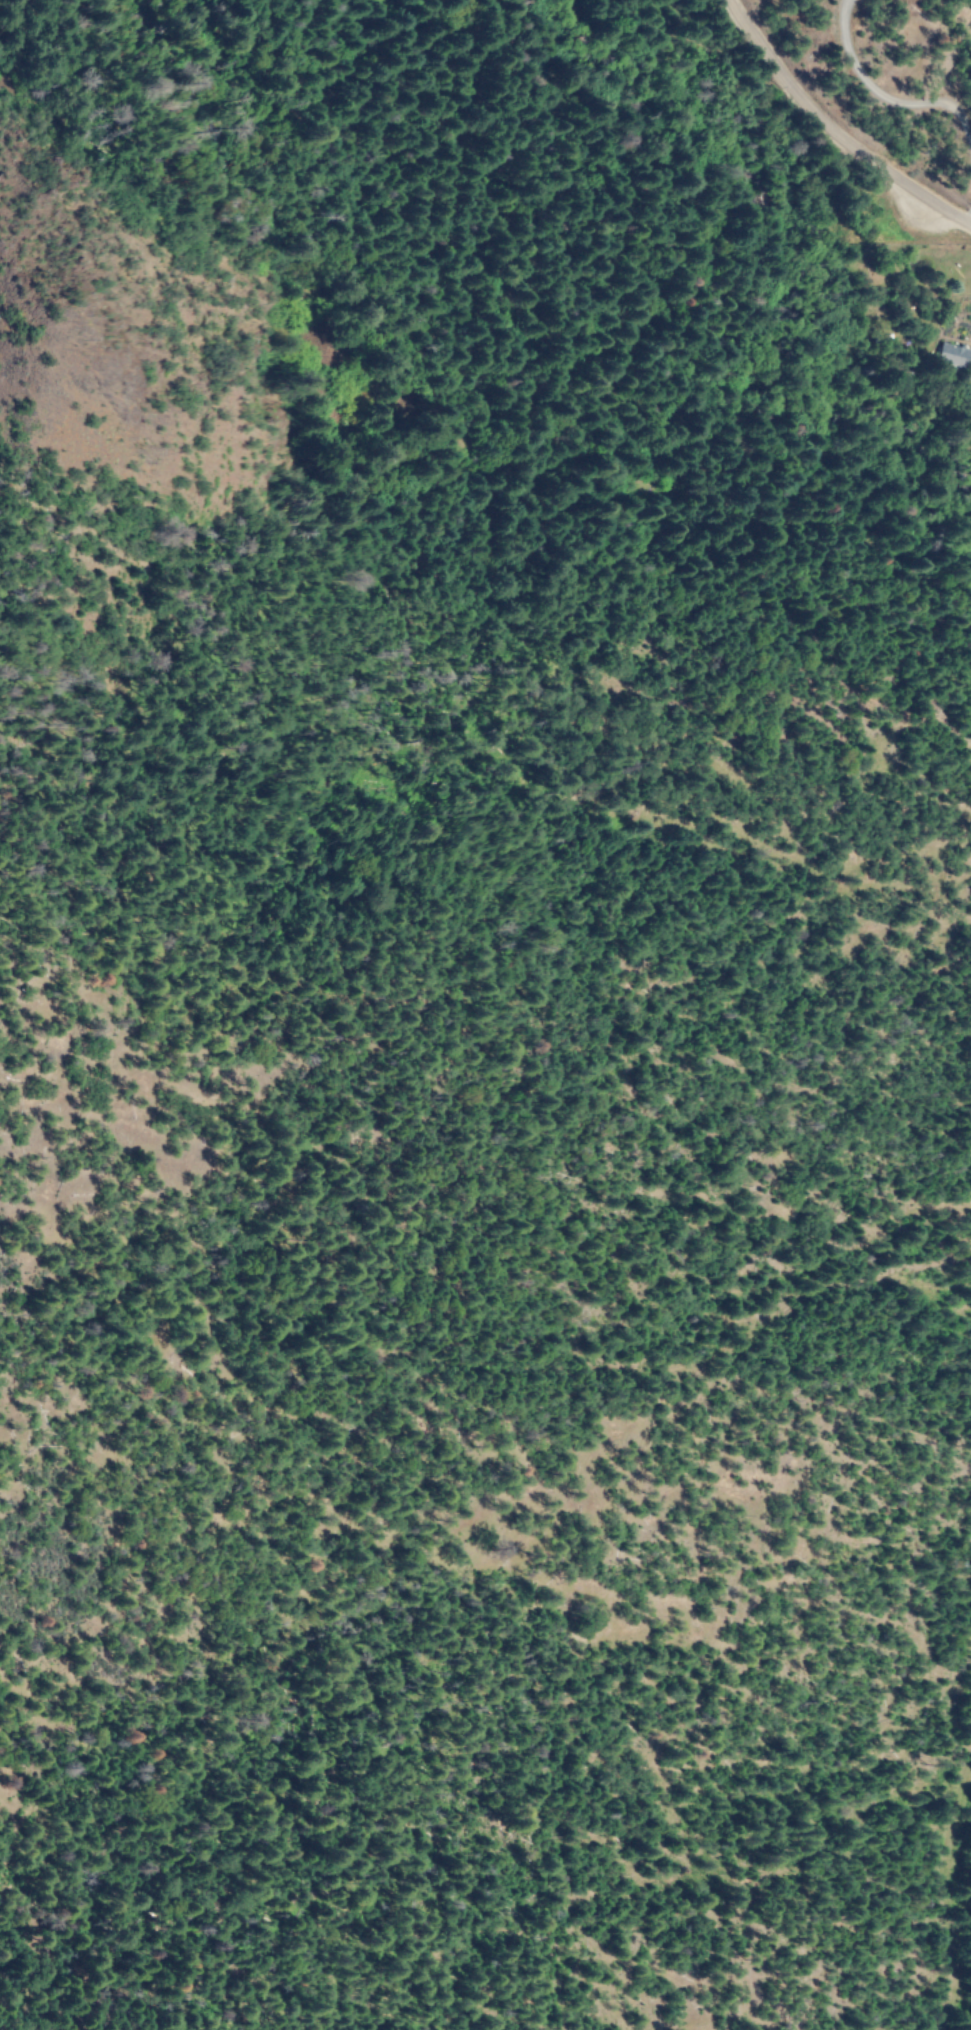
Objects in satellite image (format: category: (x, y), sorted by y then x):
road: (830, 137)
road: (863, 331)
building: (948, 355)
road: (815, 1186)

